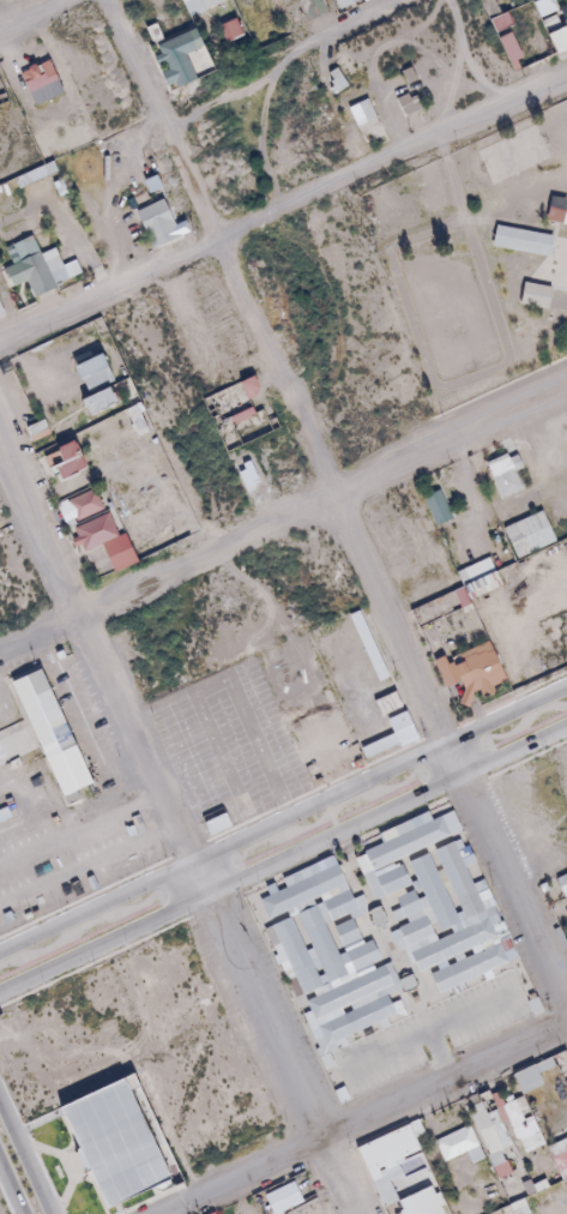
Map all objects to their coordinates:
road: (31, 13)
road: (476, 55)
road: (282, 64)
road: (282, 211)
road: (338, 509)
road: (283, 522)
road: (283, 819)
road: (175, 830)
road: (283, 857)
road: (362, 1119)

